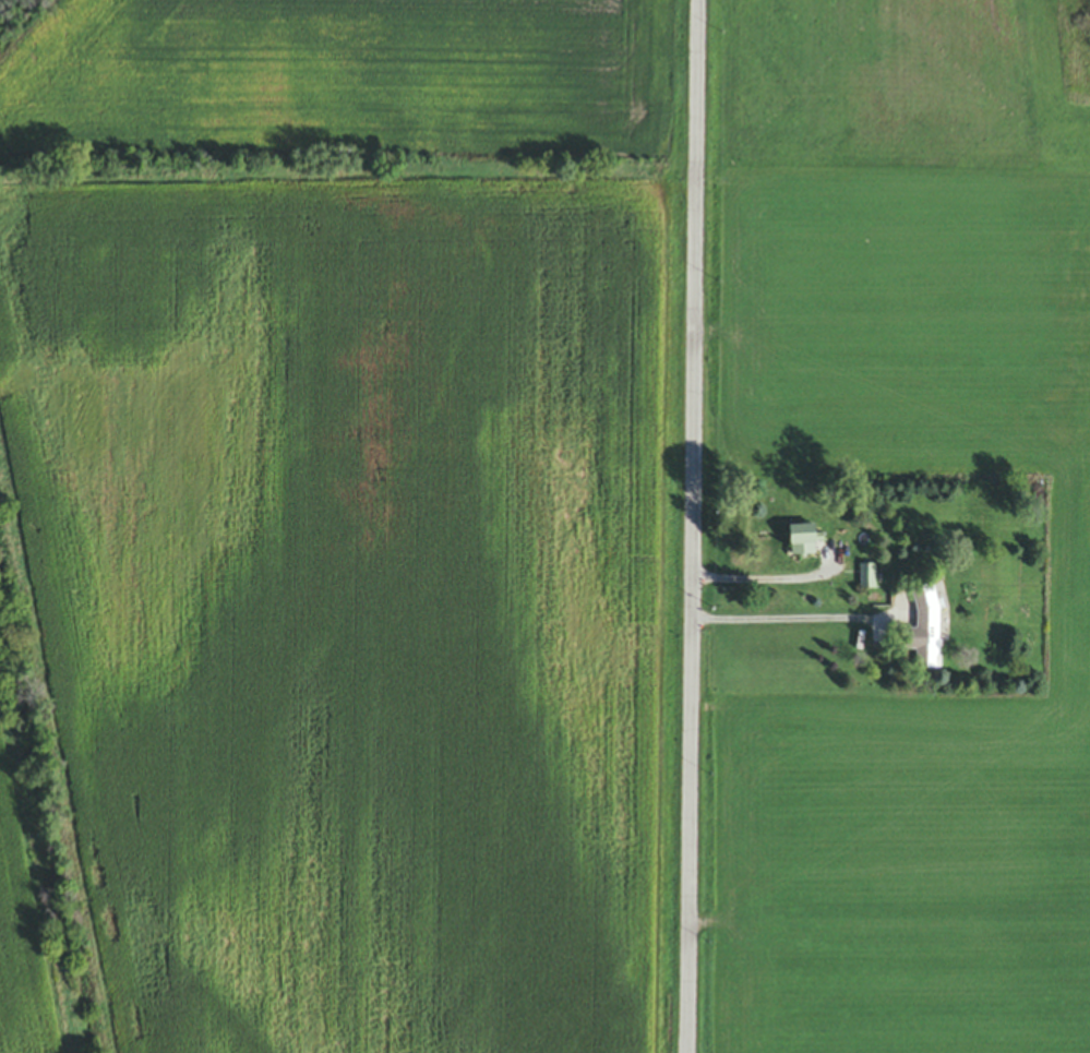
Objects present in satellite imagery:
road: (694, 526)
building: (802, 541)
road: (775, 581)
road: (787, 620)
building: (925, 630)

